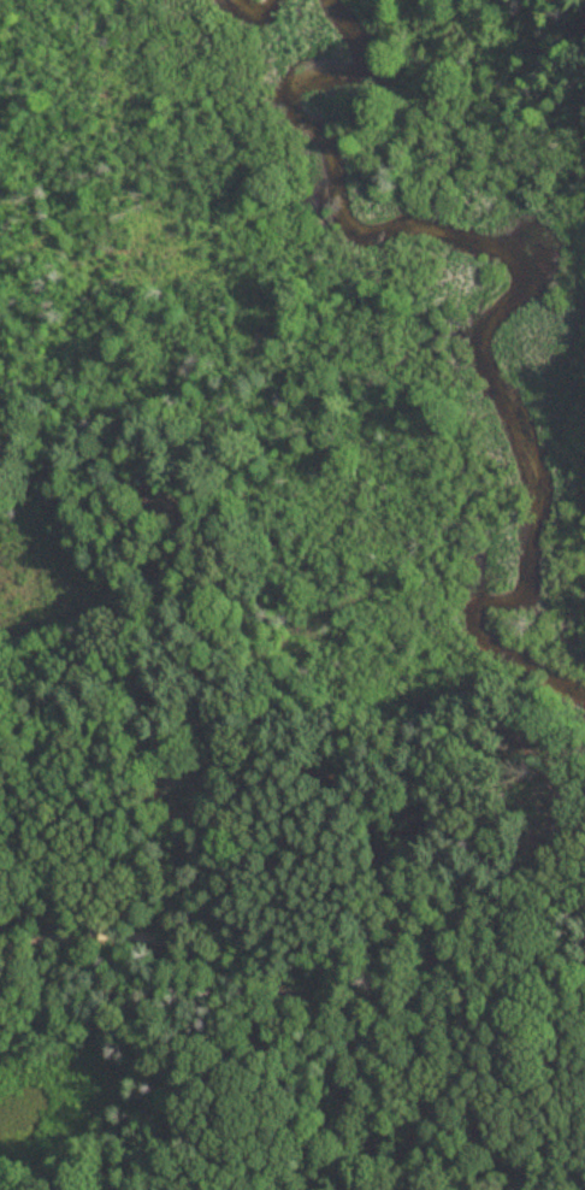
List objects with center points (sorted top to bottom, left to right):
road: (111, 1074)

